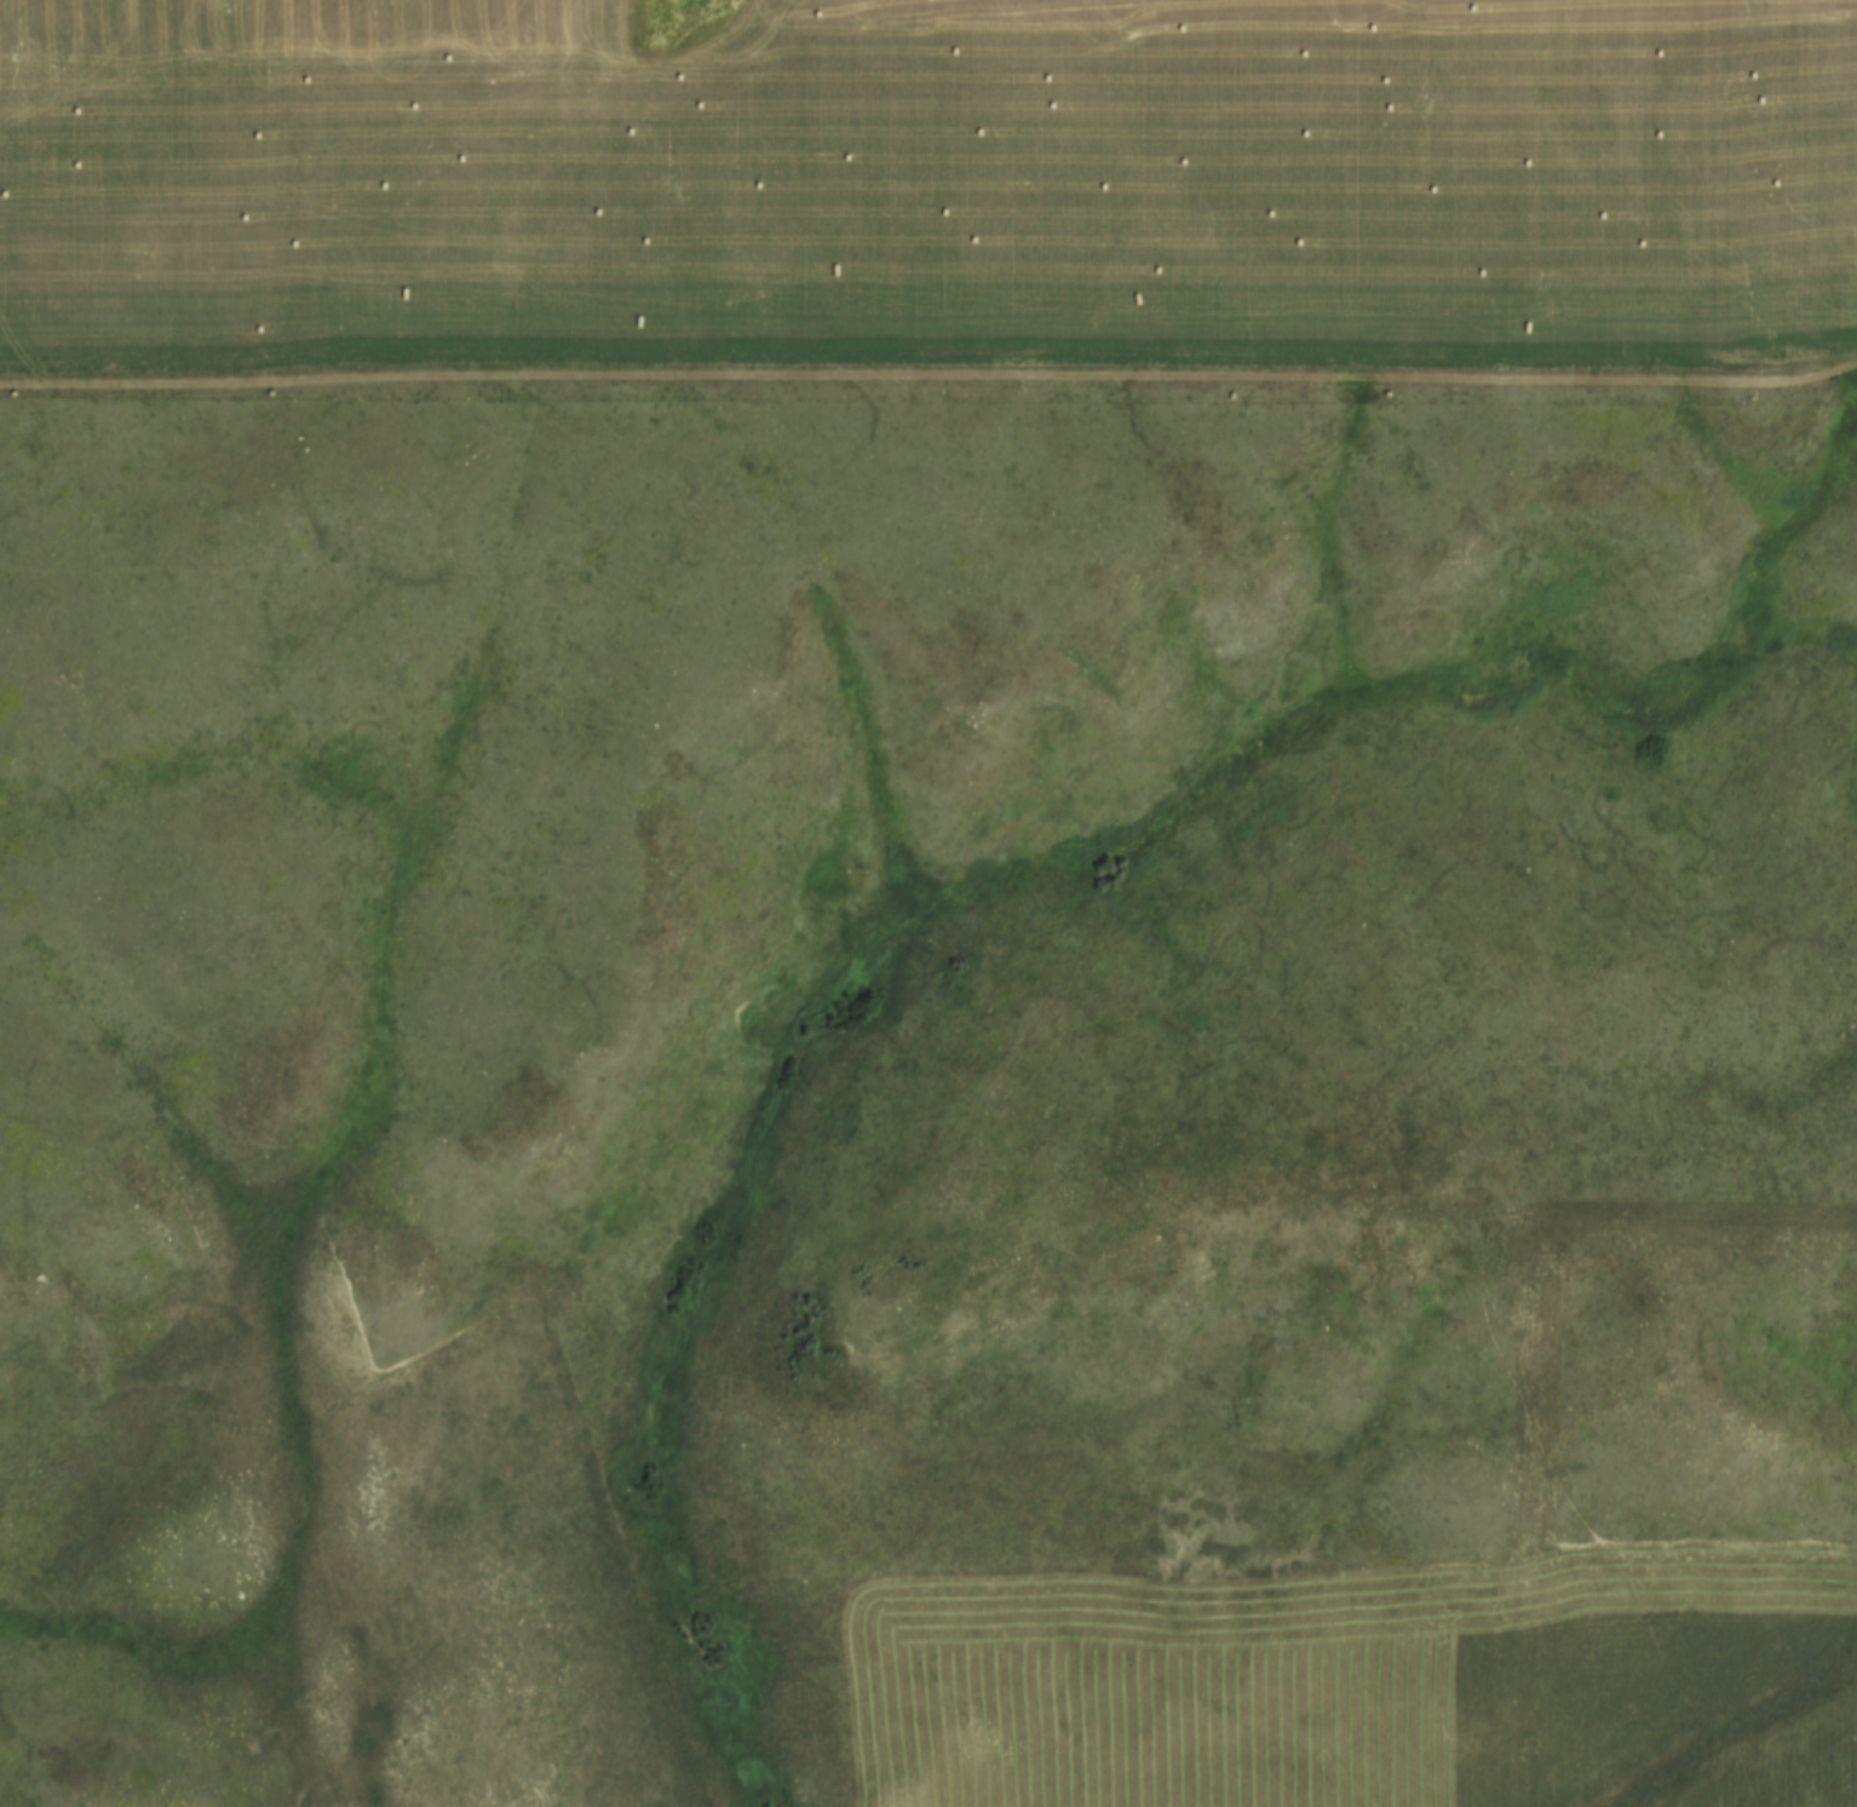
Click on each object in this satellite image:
road: (298, 192)
road: (930, 378)

